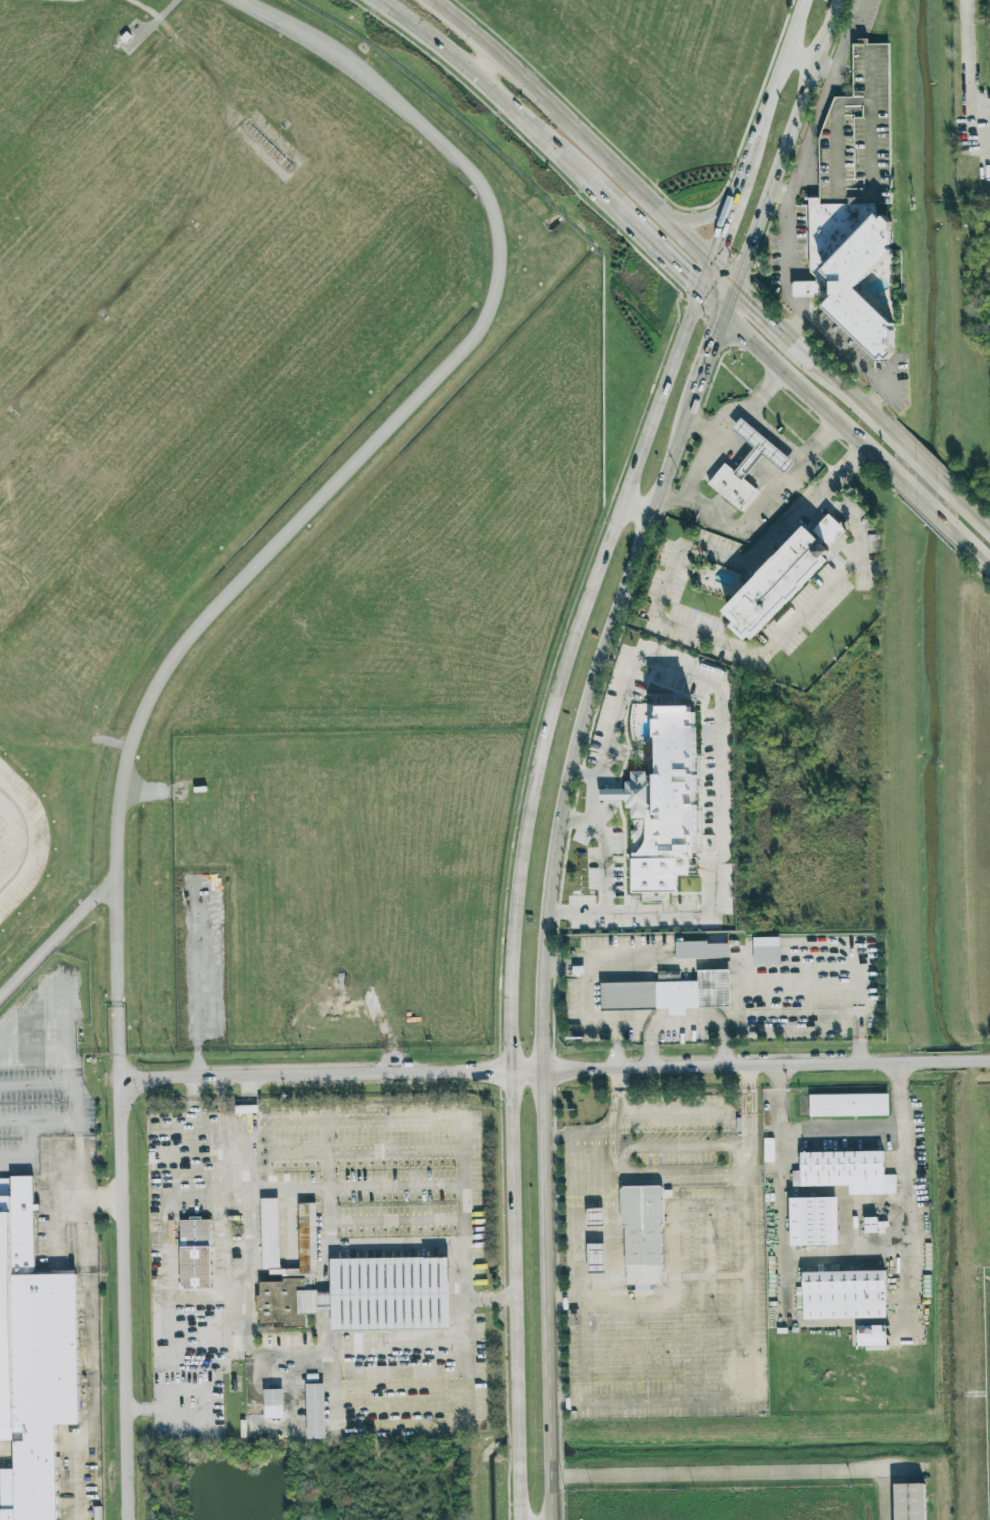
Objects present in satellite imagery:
road: (801, 62)
road: (485, 66)
road: (466, 71)
road: (826, 72)
road: (969, 83)
road: (770, 97)
building: (869, 97)
road: (572, 130)
parking lot: (861, 136)
road: (790, 145)
road: (529, 147)
road: (809, 180)
road: (781, 196)
road: (785, 212)
road: (696, 218)
road: (723, 231)
road: (640, 233)
traffic signals: (720, 241)
building: (851, 267)
traffic signals: (687, 278)
road: (723, 279)
traffic signals: (749, 303)
road: (730, 304)
road: (764, 317)
road: (793, 325)
traffic signals: (715, 342)
road: (705, 368)
road: (845, 391)
road: (761, 393)
road: (806, 399)
road: (875, 403)
road: (716, 424)
road: (735, 449)
road: (358, 458)
road: (926, 468)
building: (744, 473)
parking lot: (987, 485)
road: (766, 502)
road: (926, 506)
road: (635, 511)
road: (973, 513)
road: (827, 532)
road: (857, 533)
airport: (229, 548)
road: (753, 553)
road: (974, 553)
building: (781, 582)
road: (771, 646)
road: (721, 735)
road: (582, 772)
building: (665, 804)
airport taxiway: (18, 807)
airport taxiway: (21, 865)
road: (604, 865)
road: (517, 878)
road: (57, 938)
building: (702, 950)
building: (766, 950)
road: (544, 959)
building: (669, 975)
road: (198, 981)
building: (666, 997)
road: (670, 1024)
road: (61, 1031)
road: (31, 1047)
road: (748, 1067)
road: (311, 1075)
road: (33, 1083)
road: (199, 1098)
building: (848, 1104)
parking lot: (51, 1111)
road: (685, 1111)
road: (242, 1114)
road: (255, 1115)
road: (14, 1124)
road: (79, 1129)
road: (29, 1130)
road: (393, 1151)
road: (288, 1152)
road: (80, 1167)
road: (459, 1167)
building: (842, 1168)
road: (328, 1169)
road: (249, 1170)
road: (577, 1181)
road: (394, 1186)
road: (230, 1187)
road: (100, 1199)
road: (328, 1217)
building: (595, 1217)
road: (394, 1220)
building: (817, 1220)
building: (872, 1225)
building: (642, 1226)
road: (395, 1246)
building: (194, 1254)
building: (596, 1258)
road: (120, 1263)
road: (462, 1270)
building: (350, 1284)
building: (843, 1288)
road: (567, 1306)
road: (851, 1319)
road: (750, 1333)
building: (871, 1337)
road: (584, 1353)
building: (33, 1361)
building: (271, 1403)
building: (314, 1409)
airport apron: (7, 1454)
road: (741, 1478)
building: (910, 1501)
building: (97, 1519)

